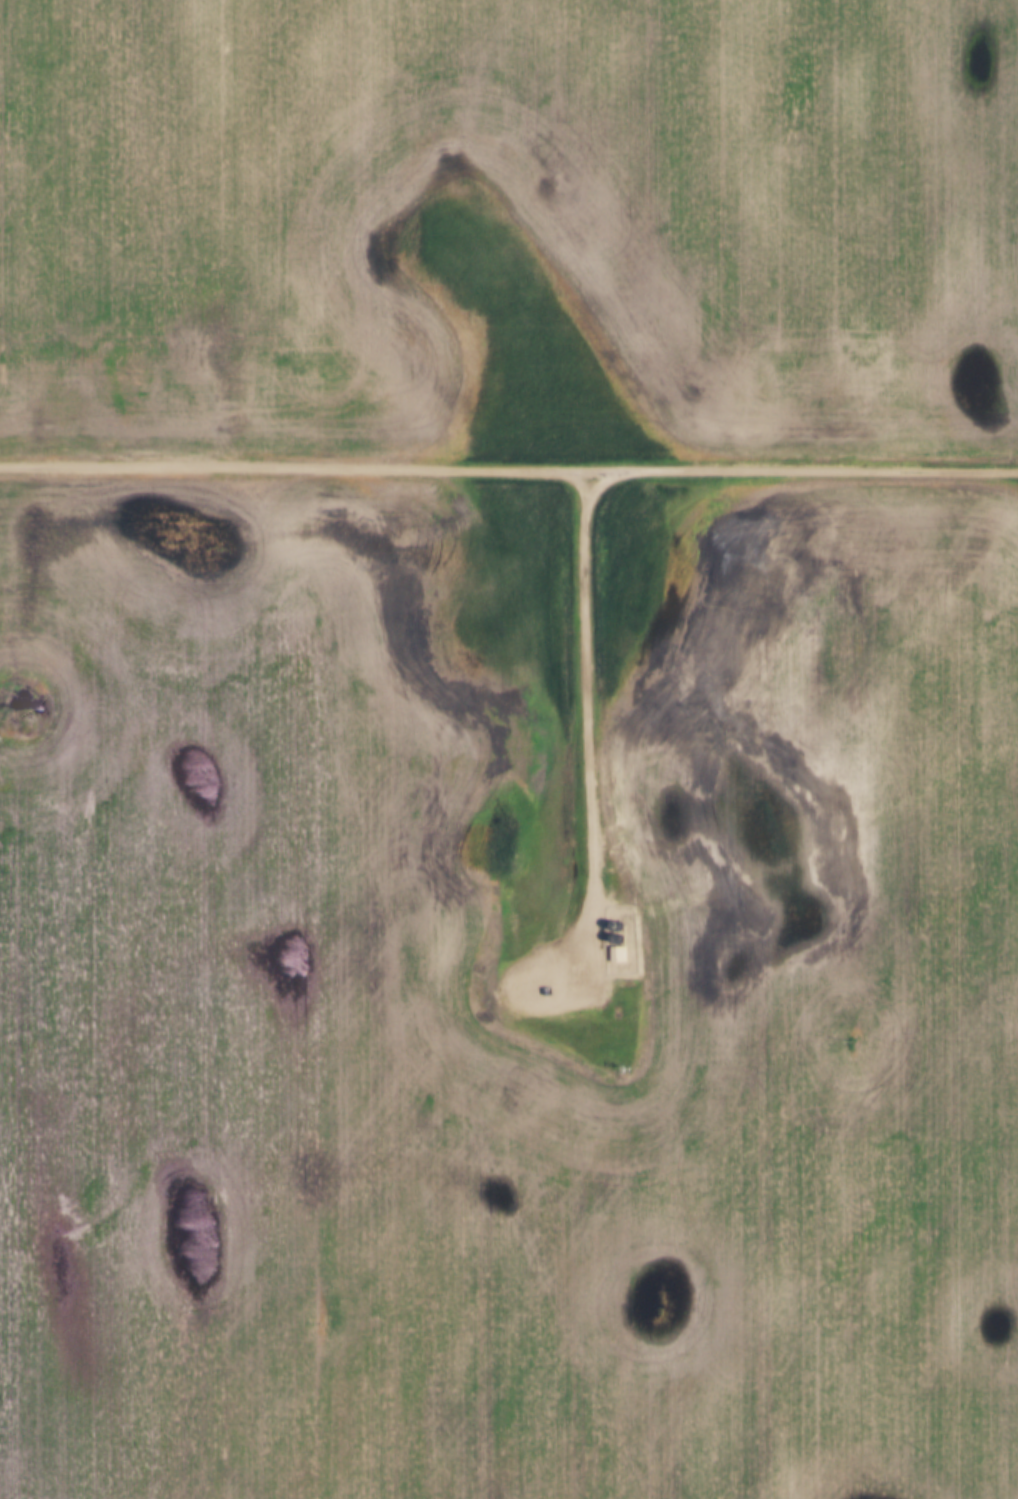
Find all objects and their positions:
road: (508, 465)
road: (590, 707)
building: (617, 954)

